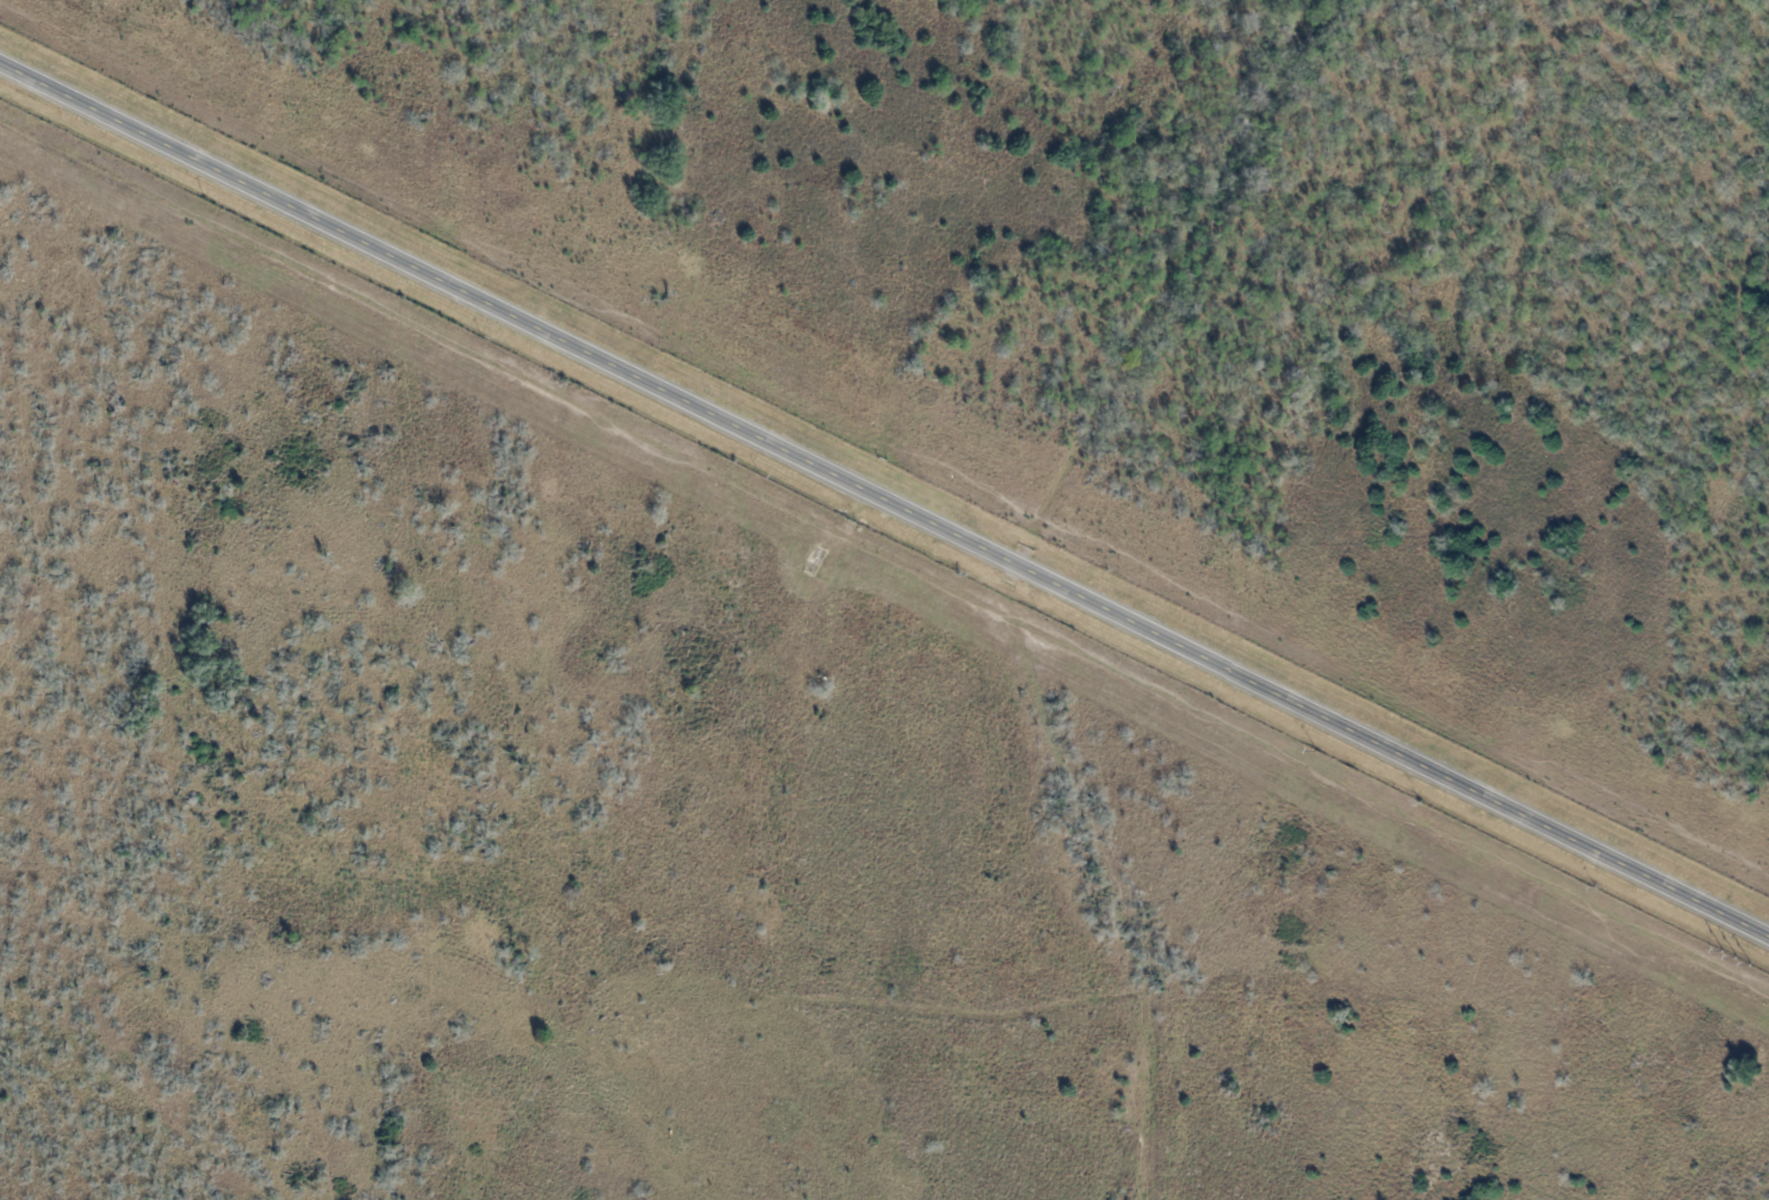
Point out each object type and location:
road: (884, 492)

